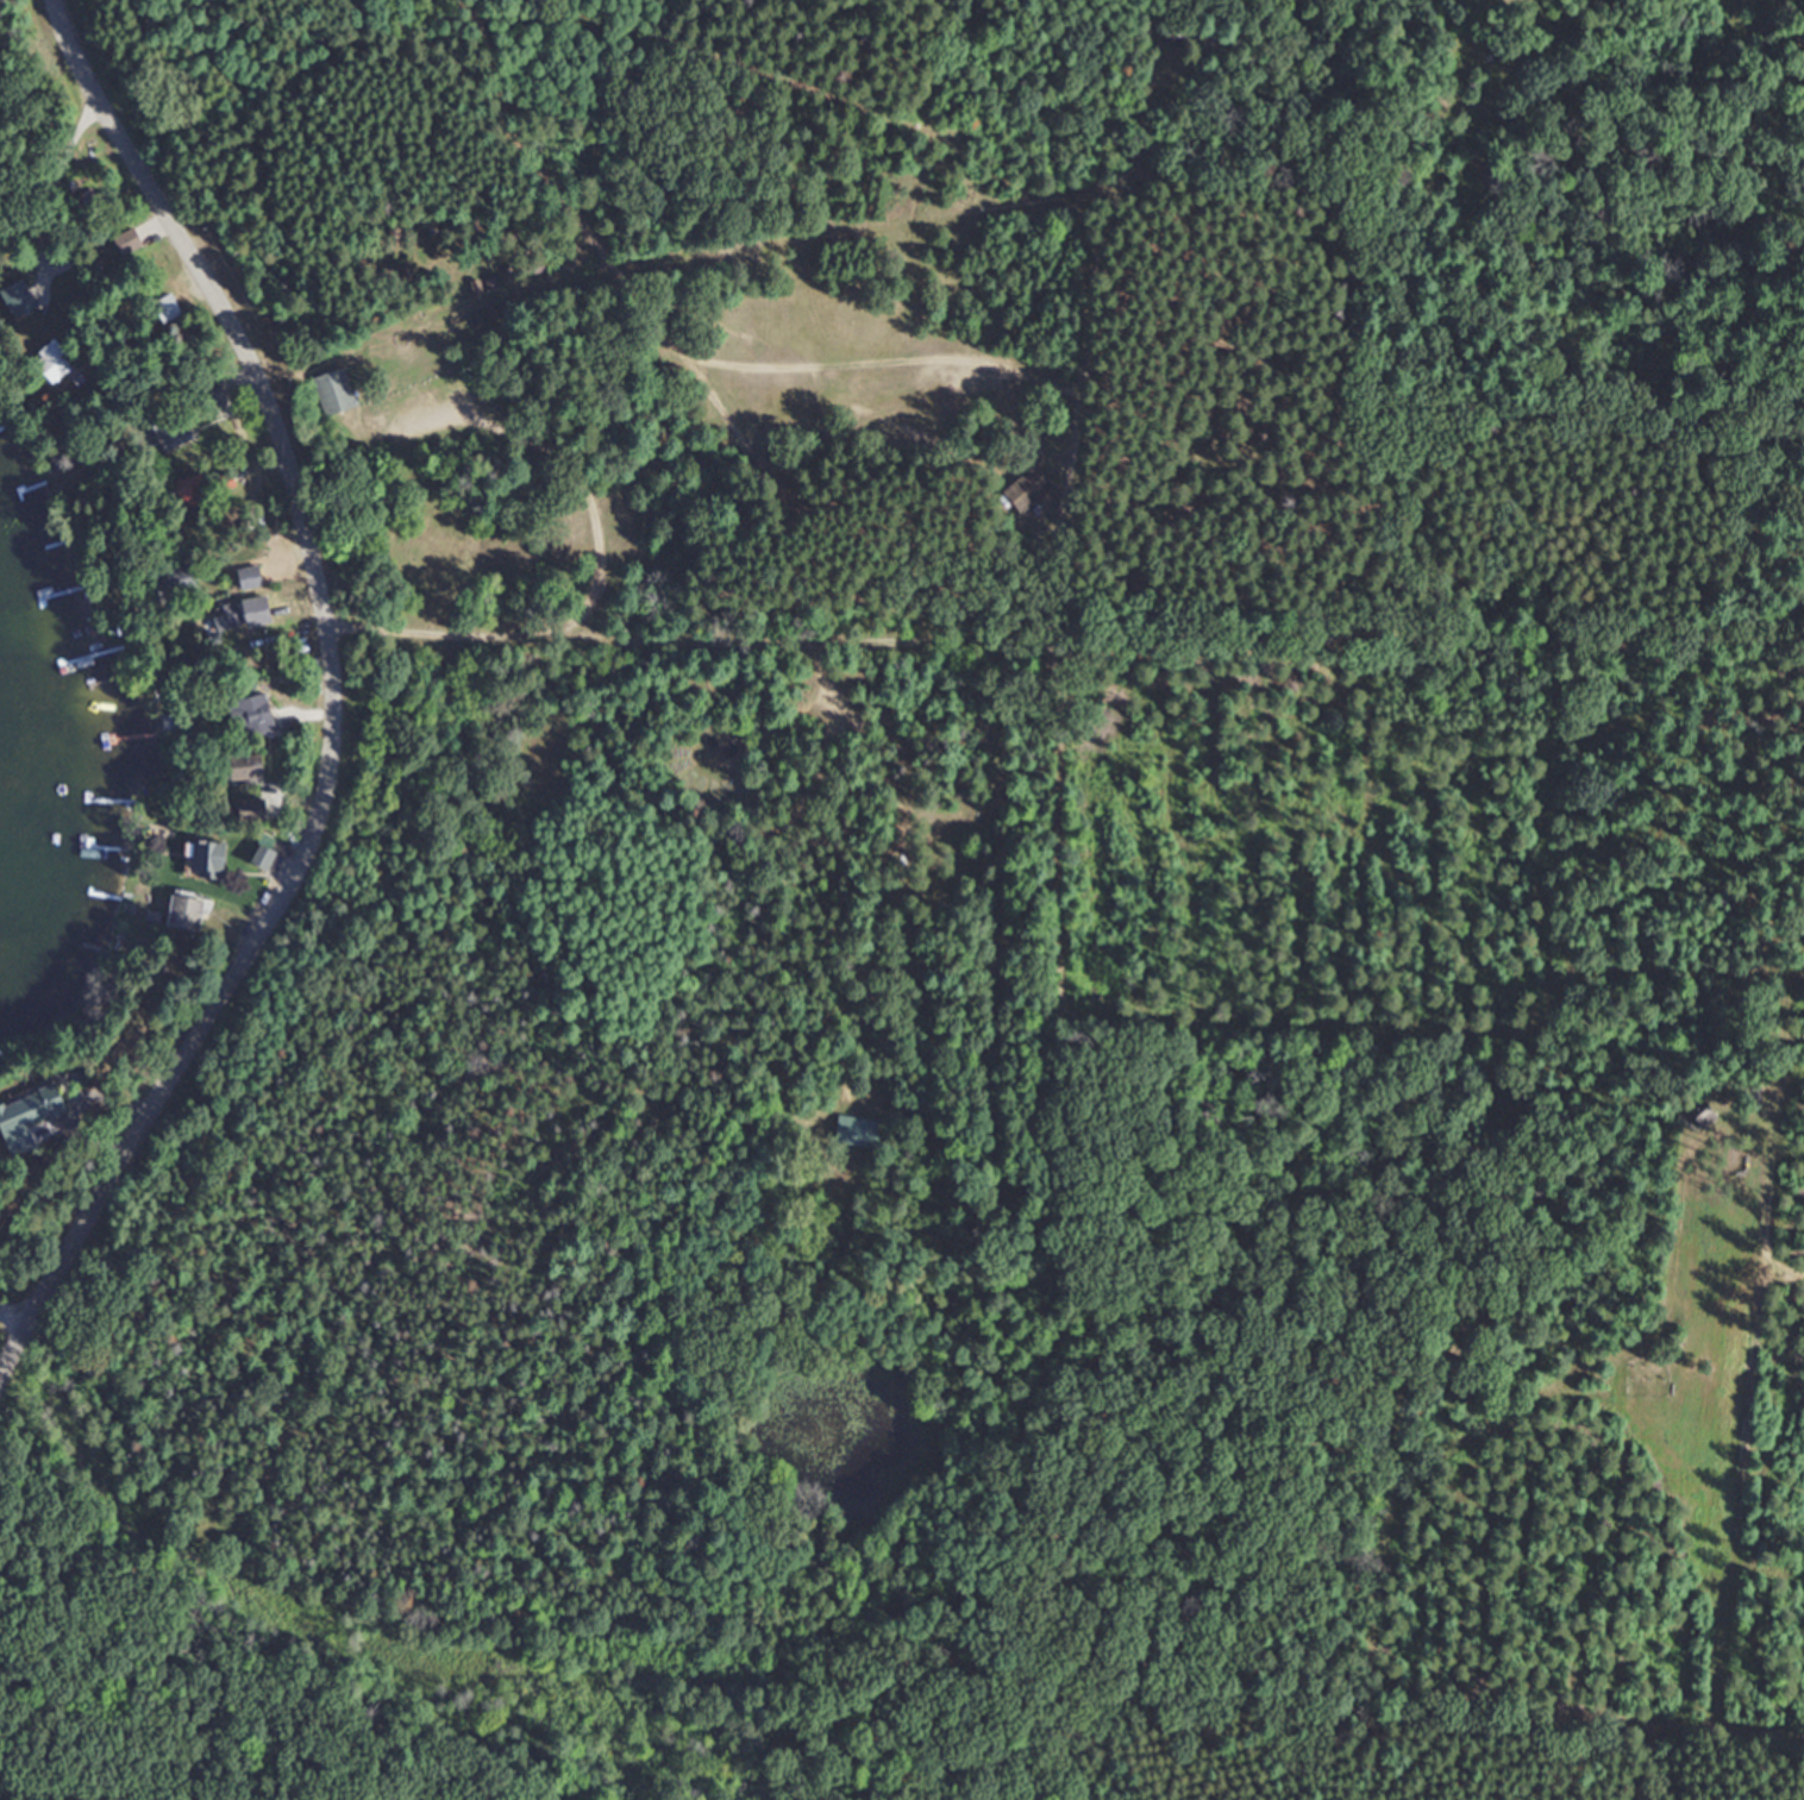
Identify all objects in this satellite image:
road: (1164, 2)
road: (959, 31)
building: (1177, 33)
road: (716, 55)
road: (1473, 73)
road: (945, 84)
road: (925, 114)
road: (1314, 133)
road: (917, 158)
road: (49, 180)
road: (1008, 181)
road: (1129, 197)
road: (289, 221)
road: (603, 228)
building: (449, 233)
building: (129, 240)
road: (912, 280)
building: (476, 287)
building: (18, 297)
building: (169, 308)
road: (447, 338)
building: (55, 365)
building: (336, 390)
parking lot: (418, 409)
building: (171, 431)
building: (1026, 487)
building: (189, 489)
road: (795, 540)
road: (591, 560)
building: (250, 578)
building: (177, 581)
road: (1011, 638)
road: (1428, 638)
road: (706, 681)
road: (332, 703)
building: (255, 714)
road: (825, 726)
building: (249, 766)
building: (252, 809)
road: (781, 817)
building: (262, 855)
building: (207, 858)
road: (891, 868)
building: (183, 912)
building: (1702, 1115)
building: (856, 1128)
road: (1059, 1221)
road: (960, 1260)
road: (13, 1318)
road: (8, 1790)
road: (61, 1790)

